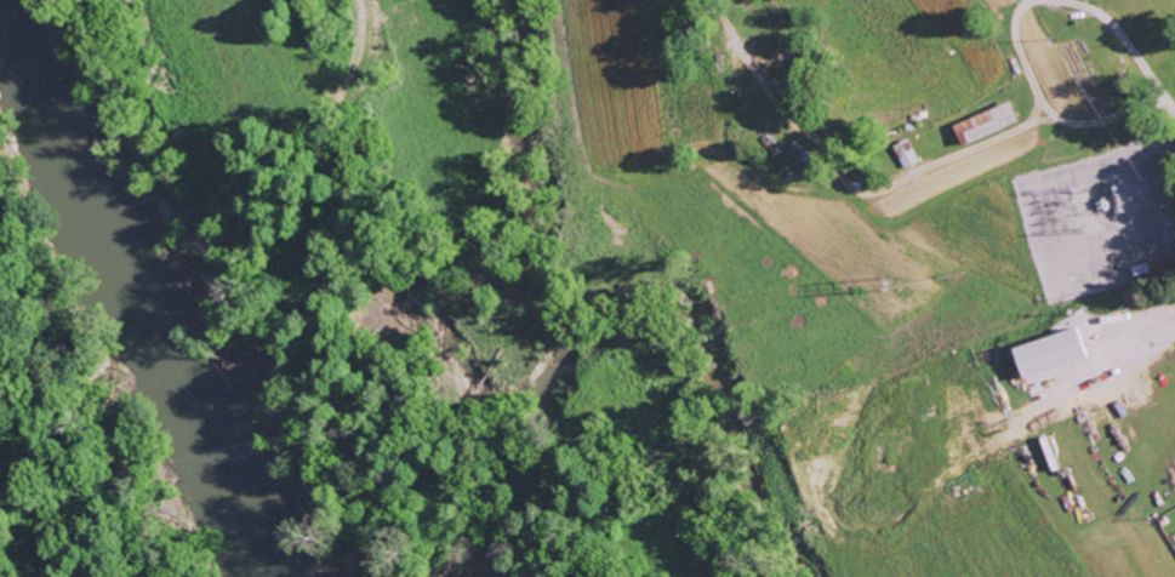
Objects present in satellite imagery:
building: (982, 122)
building: (903, 153)
river: (102, 304)
building: (1045, 353)

